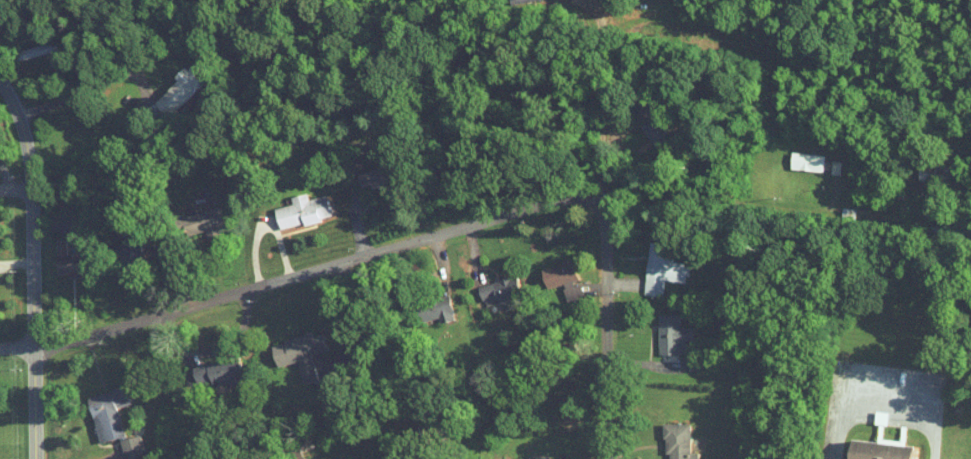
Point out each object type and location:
building: (35, 51)
building: (181, 89)
road: (603, 91)
road: (41, 92)
road: (83, 101)
road: (621, 112)
building: (655, 131)
building: (805, 162)
road: (15, 169)
building: (931, 174)
building: (378, 176)
road: (349, 187)
road: (16, 198)
building: (301, 210)
building: (204, 221)
road: (264, 224)
road: (959, 231)
building: (127, 249)
road: (476, 254)
building: (69, 260)
road: (16, 261)
road: (440, 263)
road: (209, 266)
road: (33, 268)
road: (318, 268)
building: (661, 268)
building: (557, 273)
road: (622, 285)
road: (141, 292)
building: (499, 294)
building: (435, 308)
road: (605, 321)
building: (670, 334)
road: (188, 344)
road: (17, 347)
road: (94, 353)
building: (298, 353)
road: (658, 363)
building: (211, 372)
road: (18, 388)
road: (886, 394)
building: (106, 412)
road: (445, 440)
building: (676, 441)
building: (130, 447)
building: (882, 448)
building: (534, 458)

